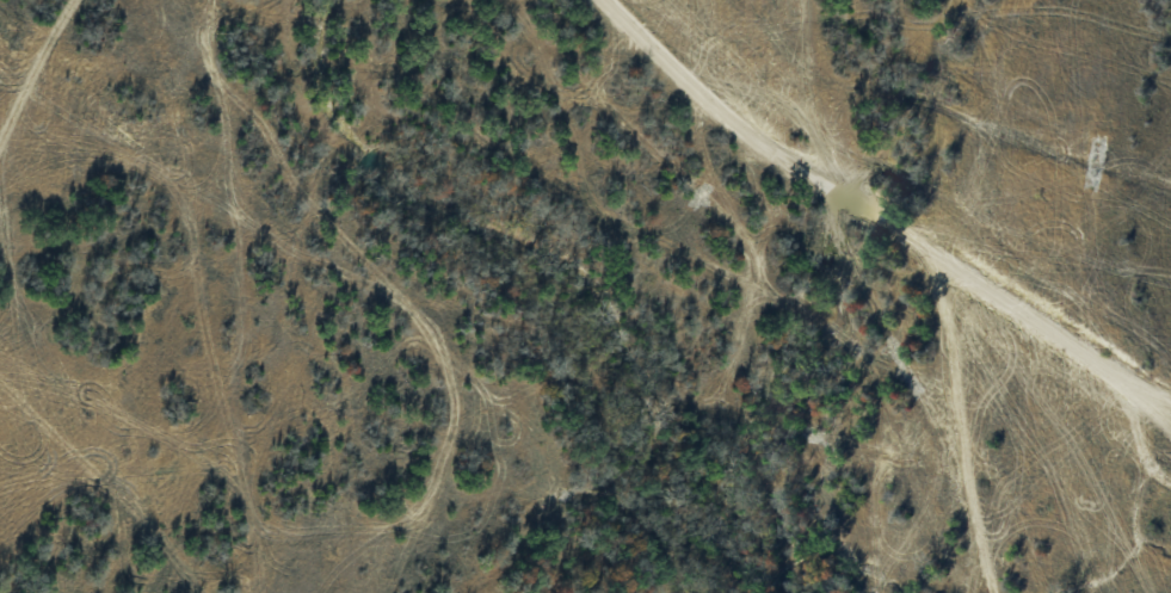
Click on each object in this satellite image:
road: (879, 217)

